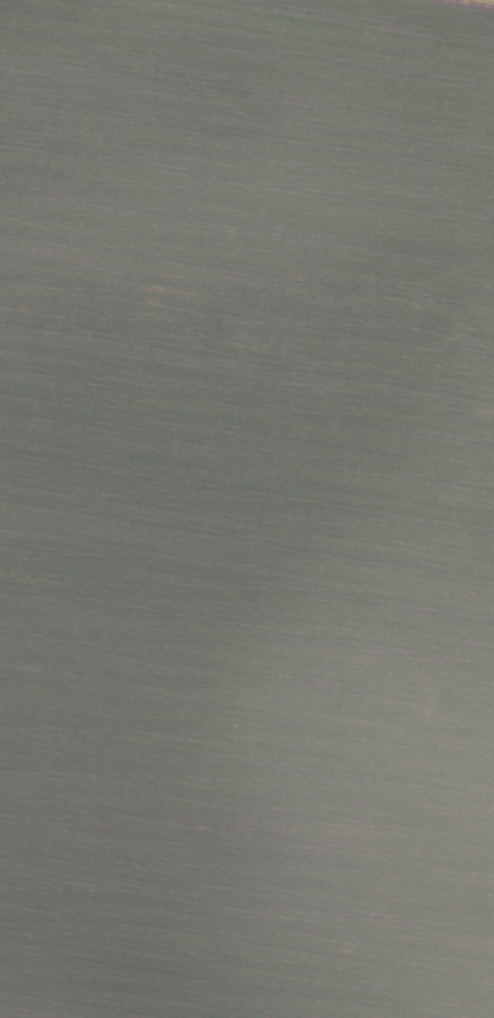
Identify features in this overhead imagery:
crop: (246, 509)

